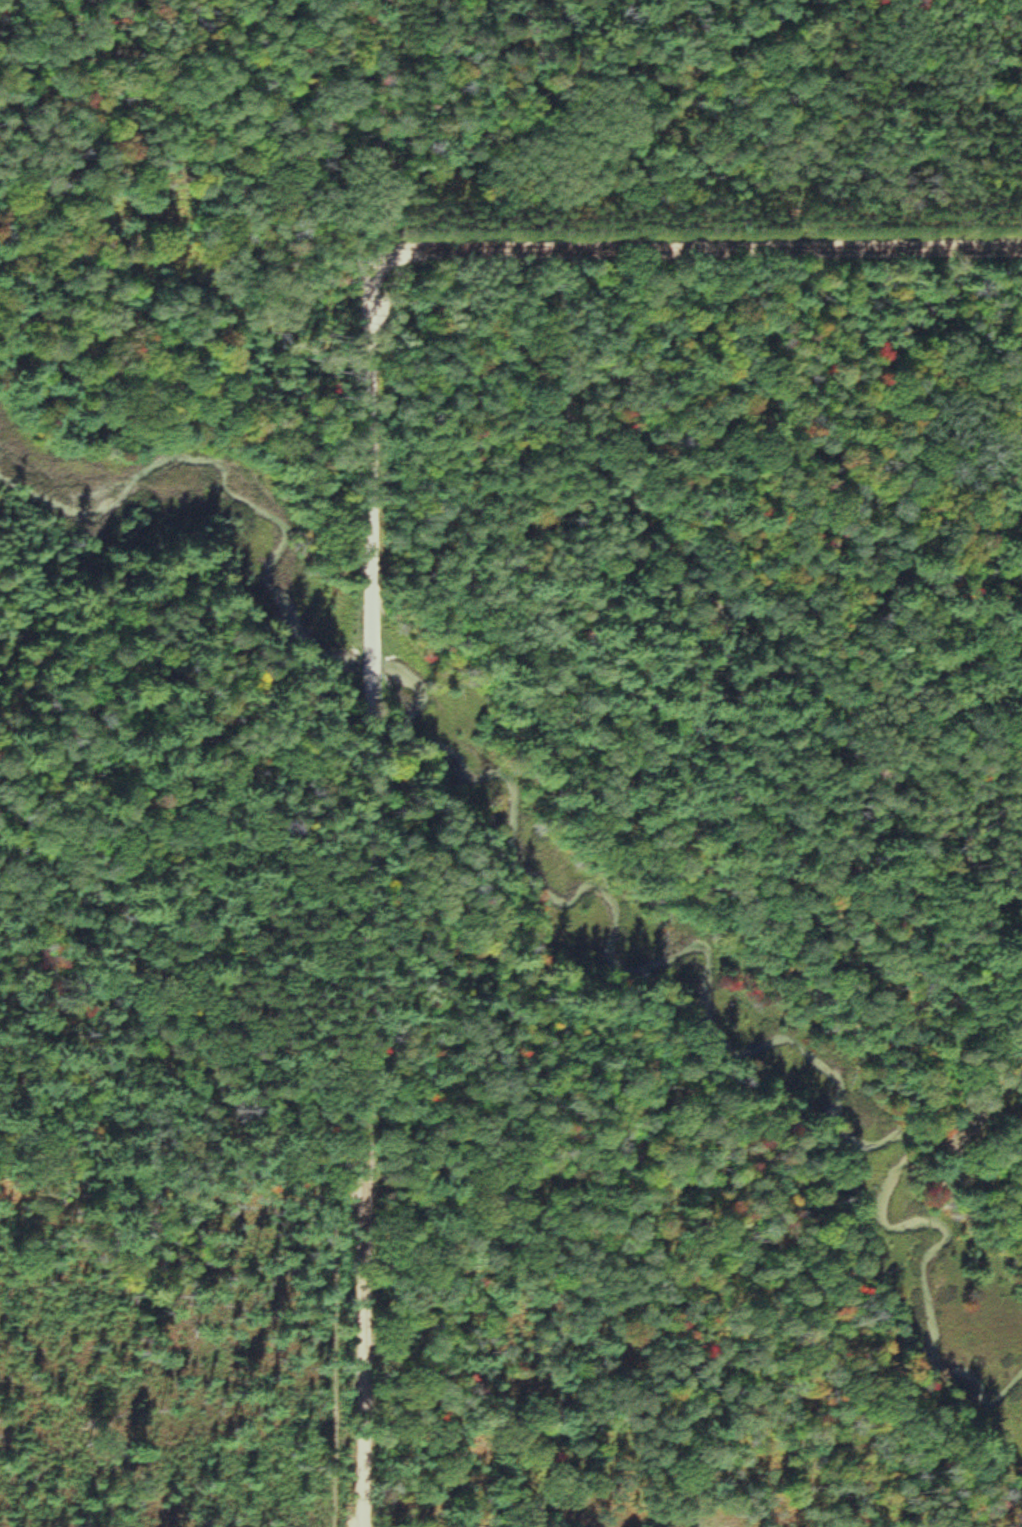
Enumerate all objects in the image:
road: (372, 134)
road: (276, 157)
road: (516, 253)
road: (707, 604)
road: (372, 679)
river: (618, 928)
road: (991, 1101)
road: (368, 1126)

